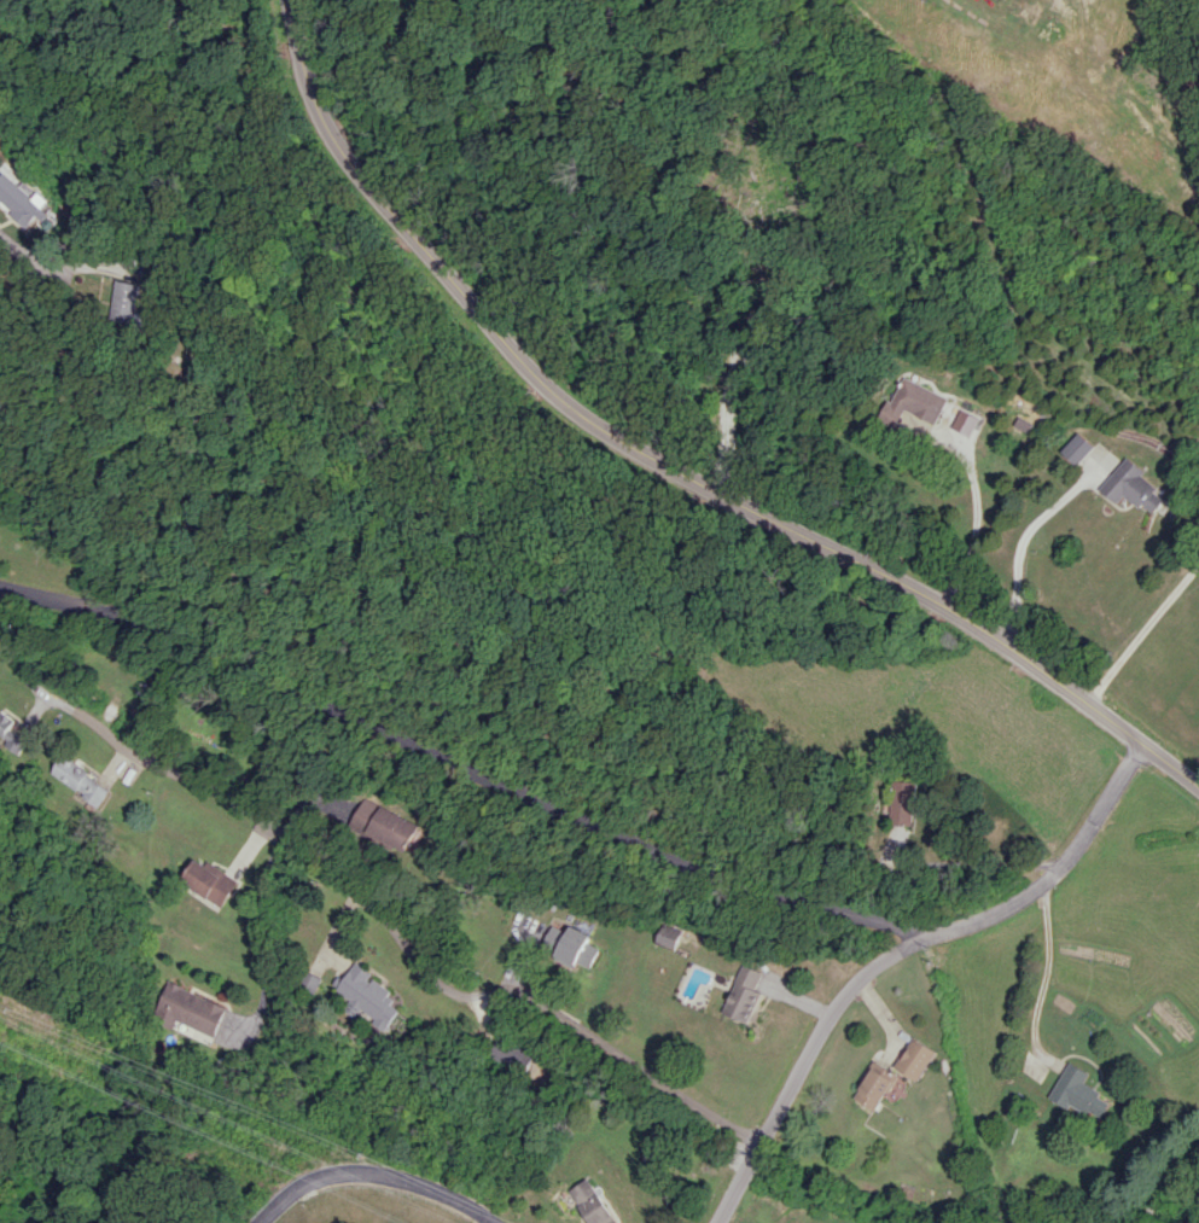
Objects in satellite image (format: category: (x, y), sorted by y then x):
building: (27, 204)
road: (18, 252)
building: (127, 301)
building: (914, 401)
building: (1077, 448)
road: (671, 460)
building: (1134, 488)
road: (983, 511)
road: (1026, 542)
road: (1142, 633)
road: (58, 699)
road: (42, 706)
building: (12, 732)
road: (121, 763)
road: (461, 765)
building: (83, 780)
road: (1195, 780)
building: (907, 802)
building: (383, 823)
road: (256, 844)
building: (214, 881)
road: (341, 925)
building: (668, 936)
road: (270, 944)
building: (571, 945)
road: (414, 949)
road: (898, 949)
road: (1044, 978)
building: (743, 992)
building: (371, 996)
building: (193, 1009)
building: (517, 1054)
building: (916, 1058)
building: (877, 1085)
building: (1081, 1091)
road: (376, 1172)
road: (1175, 1199)
building: (596, 1202)

